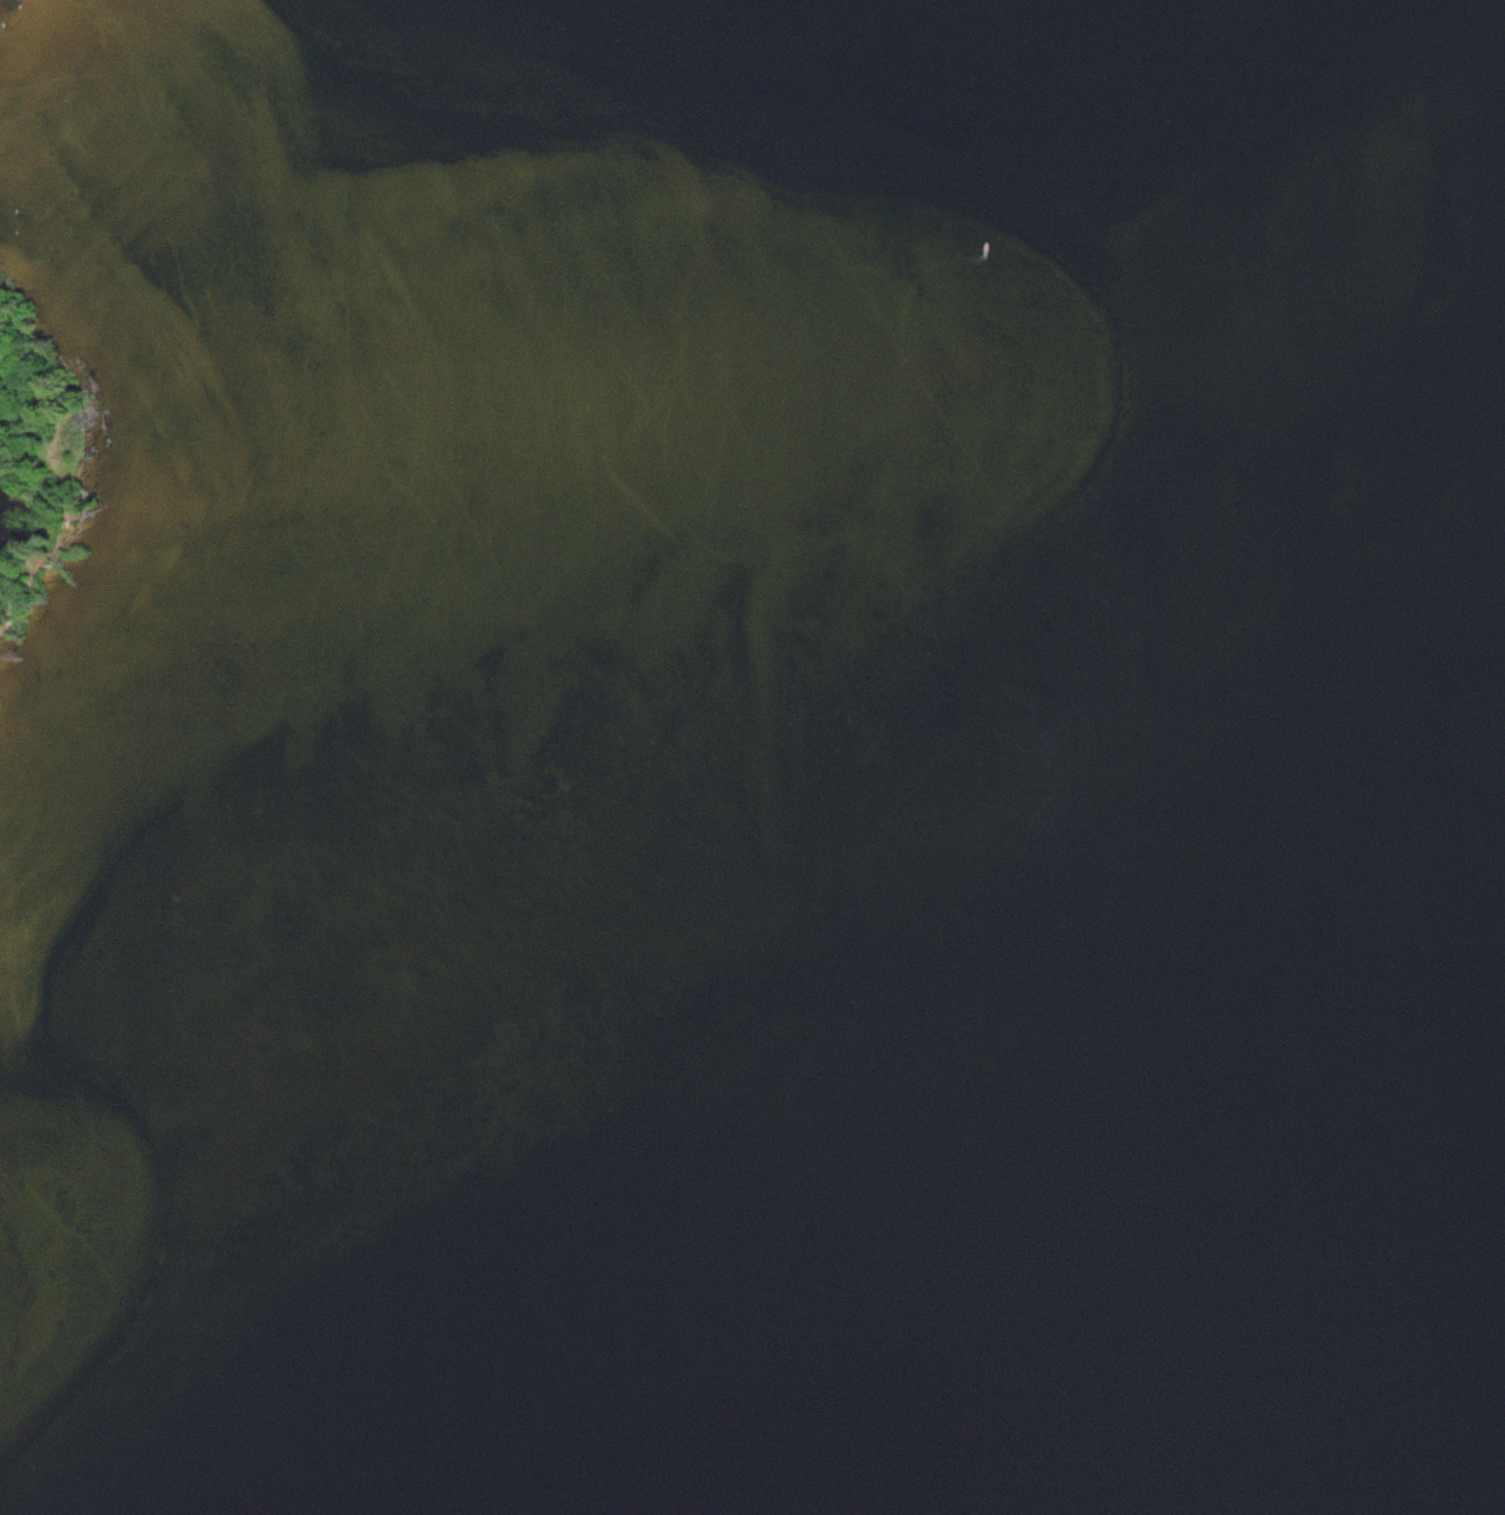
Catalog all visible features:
park: (4, 7)
park: (46, 441)
road: (72, 447)

